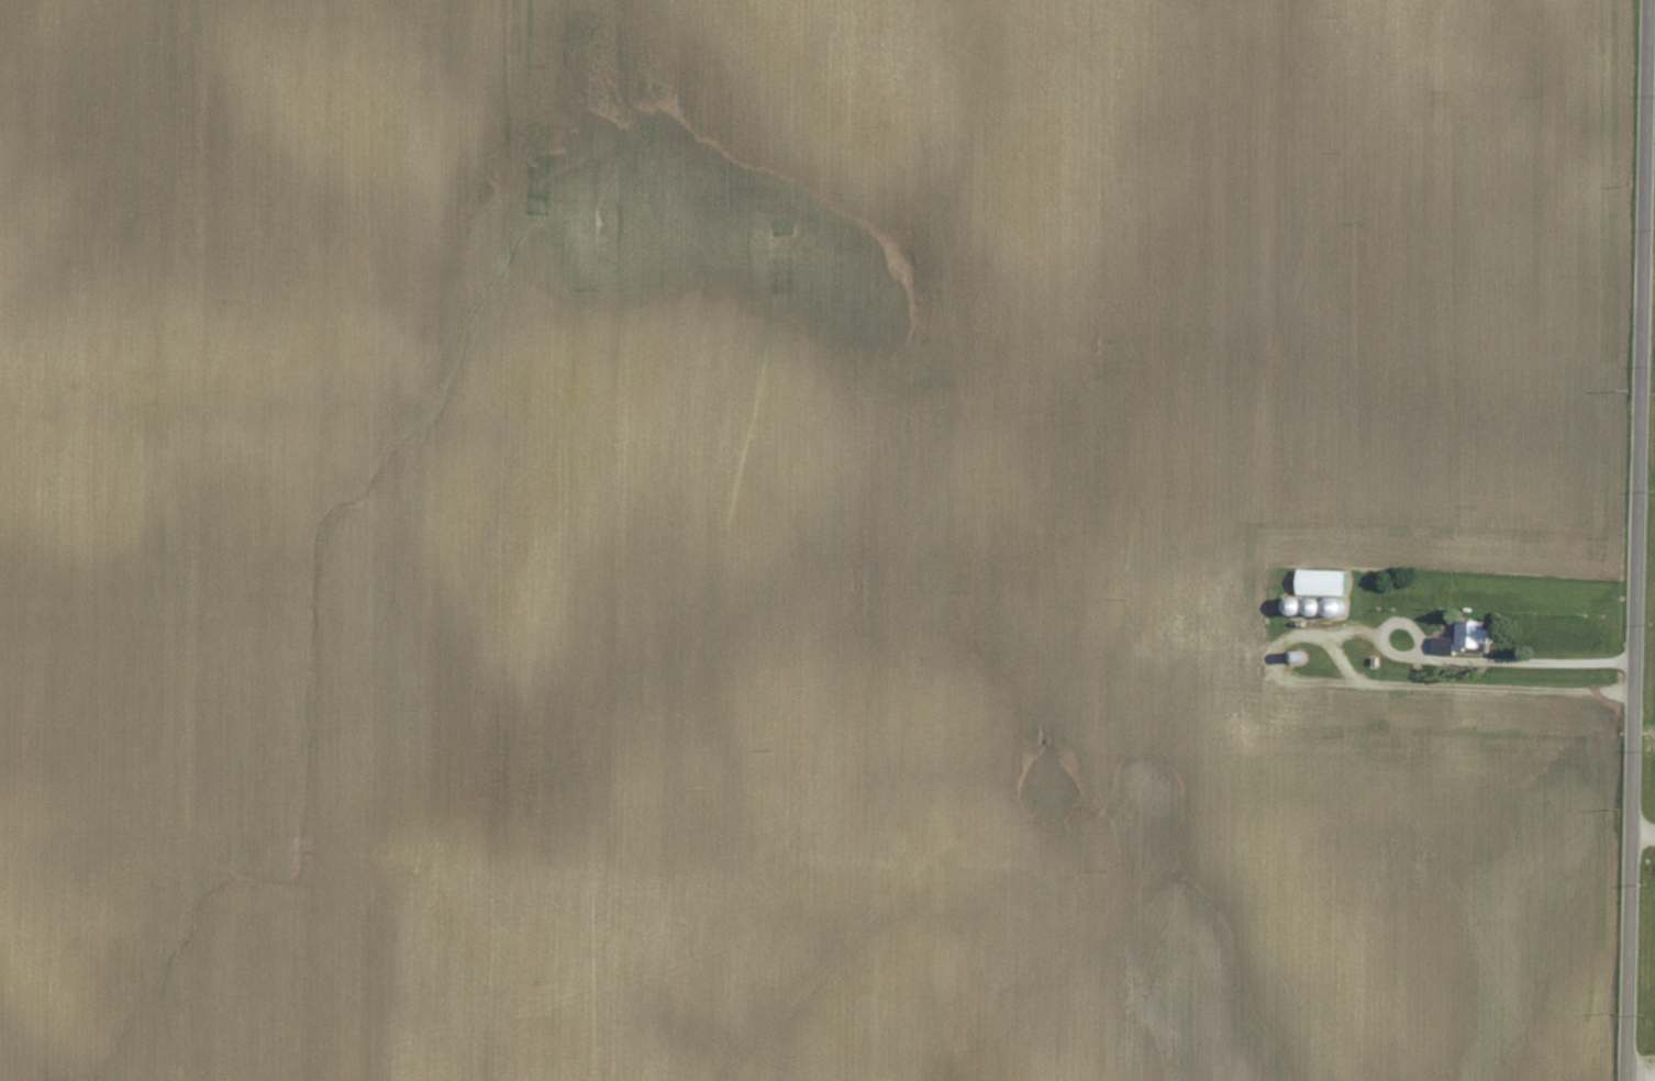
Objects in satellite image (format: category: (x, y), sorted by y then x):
road: (1637, 539)
building: (1322, 576)
building: (1474, 629)
road: (1554, 657)
road: (1420, 682)

